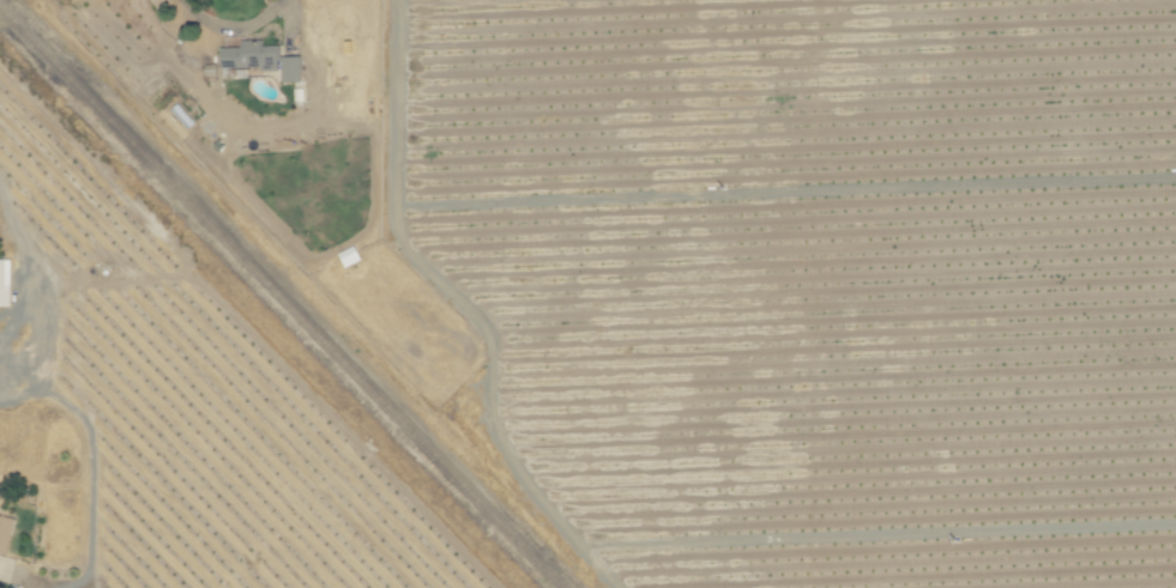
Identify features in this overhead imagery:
road: (233, 26)
building: (248, 55)
building: (289, 69)
building: (5, 283)
crop: (587, 293)
railway: (279, 298)
crop: (221, 309)
road: (92, 463)
building: (5, 533)

